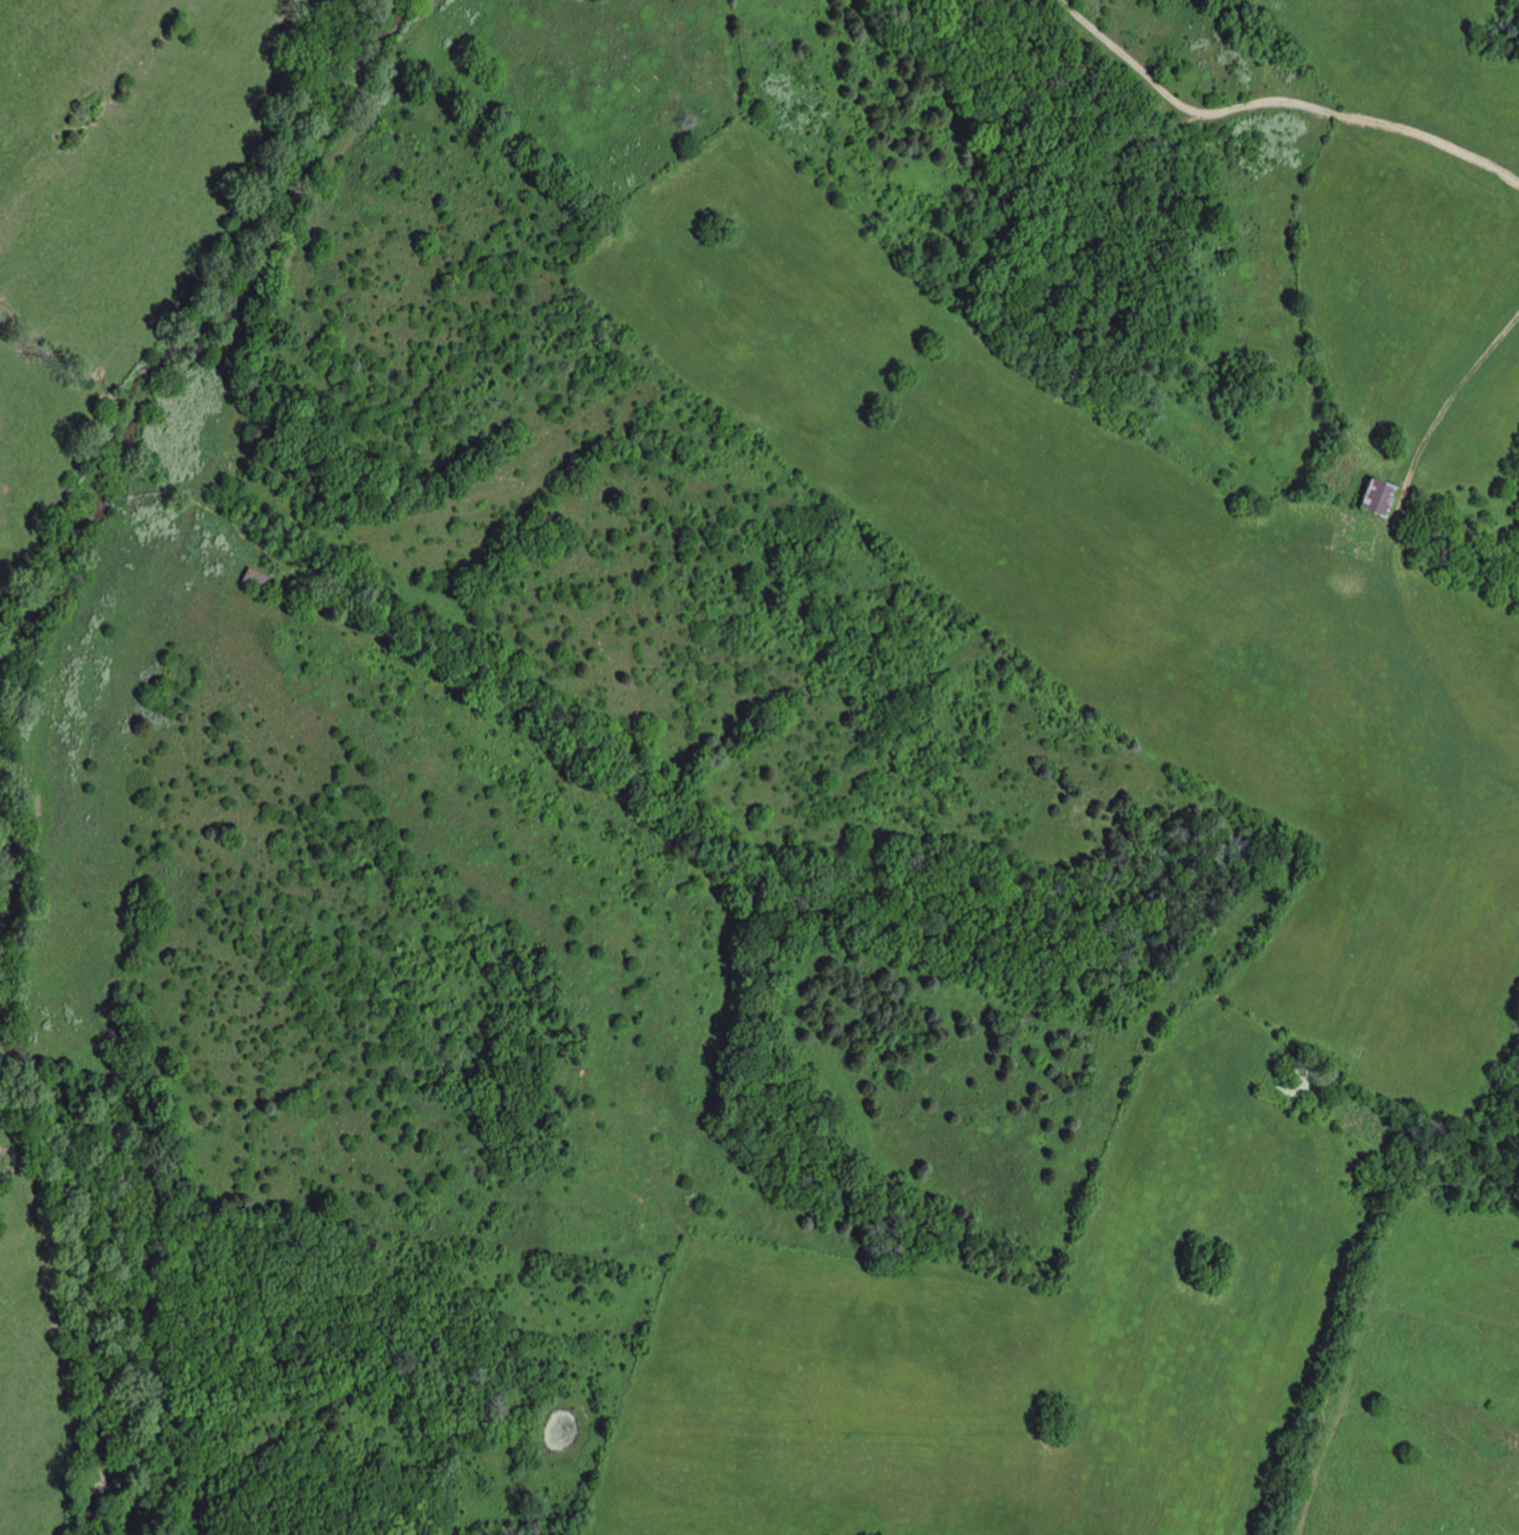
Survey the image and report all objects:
road: (1277, 105)
road: (286, 269)
road: (1432, 429)
building: (1372, 500)
building: (258, 581)

